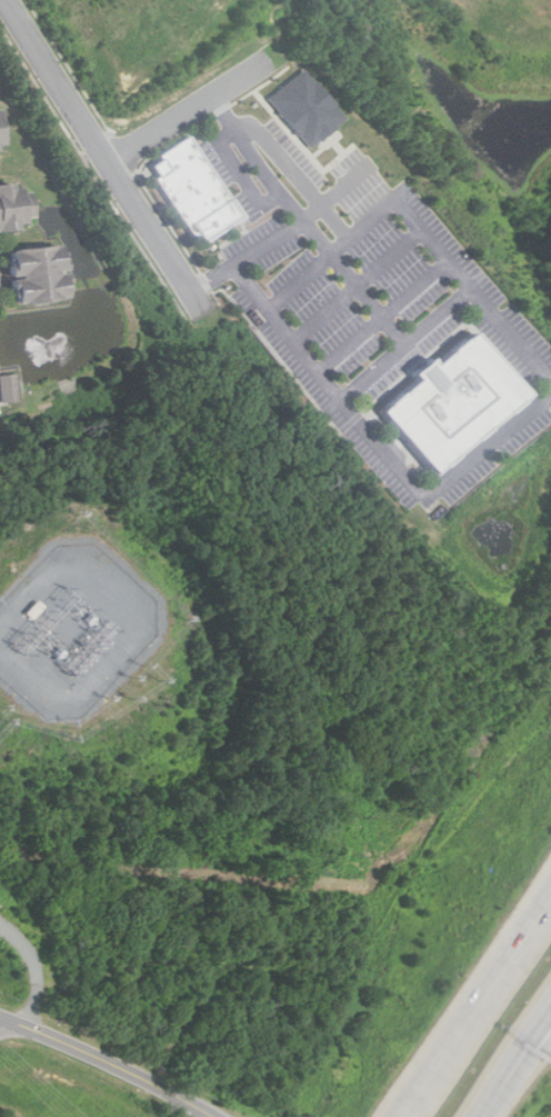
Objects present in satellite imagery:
road: (192, 106)
building: (307, 108)
building: (0, 144)
road: (103, 154)
road: (92, 171)
road: (295, 172)
road: (240, 174)
building: (193, 184)
road: (339, 190)
building: (13, 208)
road: (307, 220)
road: (246, 252)
building: (36, 275)
road: (359, 283)
road: (387, 317)
fountain: (49, 339)
road: (408, 342)
building: (8, 388)
building: (451, 398)
road: (531, 405)
power substation: (74, 630)
road: (492, 960)
road: (31, 967)
road: (475, 1000)
road: (4, 1024)
road: (514, 1043)
road: (517, 1060)
road: (111, 1061)
road: (472, 1107)

